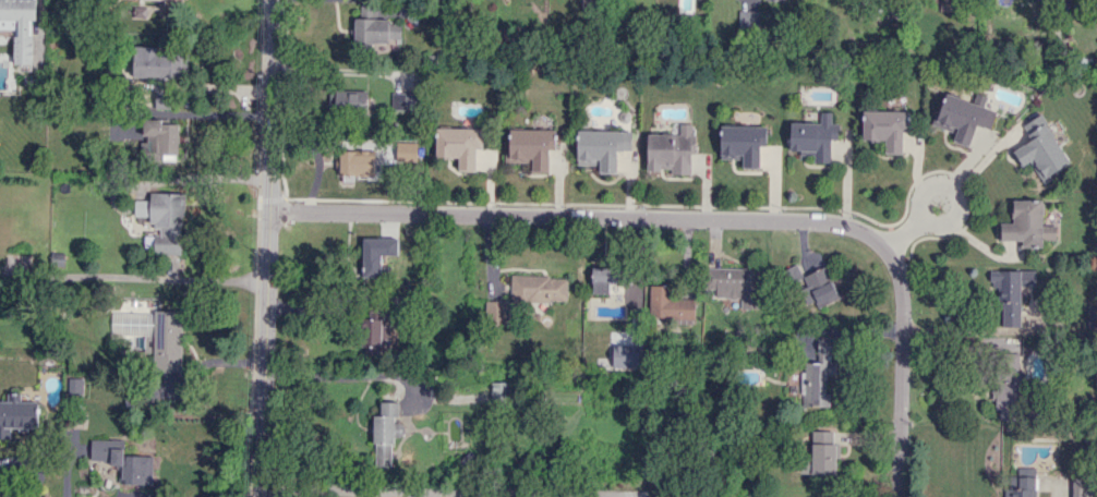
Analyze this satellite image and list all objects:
building: (173, 3)
building: (748, 19)
building: (20, 27)
building: (375, 31)
building: (156, 63)
building: (162, 96)
building: (347, 99)
building: (403, 100)
building: (963, 117)
building: (885, 128)
building: (124, 132)
building: (815, 136)
building: (161, 138)
building: (743, 143)
building: (459, 145)
building: (531, 146)
building: (602, 147)
building: (1041, 149)
building: (672, 150)
building: (377, 156)
road: (985, 157)
road: (929, 186)
road: (707, 218)
building: (165, 220)
building: (1027, 223)
road: (268, 248)
building: (376, 254)
building: (794, 272)
road: (133, 276)
building: (604, 278)
building: (735, 283)
building: (820, 287)
building: (539, 288)
building: (1011, 292)
building: (670, 304)
building: (495, 312)
building: (1090, 316)
building: (150, 335)
building: (374, 335)
building: (819, 373)
building: (1009, 386)
building: (499, 390)
building: (17, 413)
building: (385, 434)
building: (820, 436)
building: (823, 458)
building: (123, 460)
building: (1025, 471)
building: (1020, 486)
building: (1083, 486)
road: (451, 493)
road: (1056, 495)

